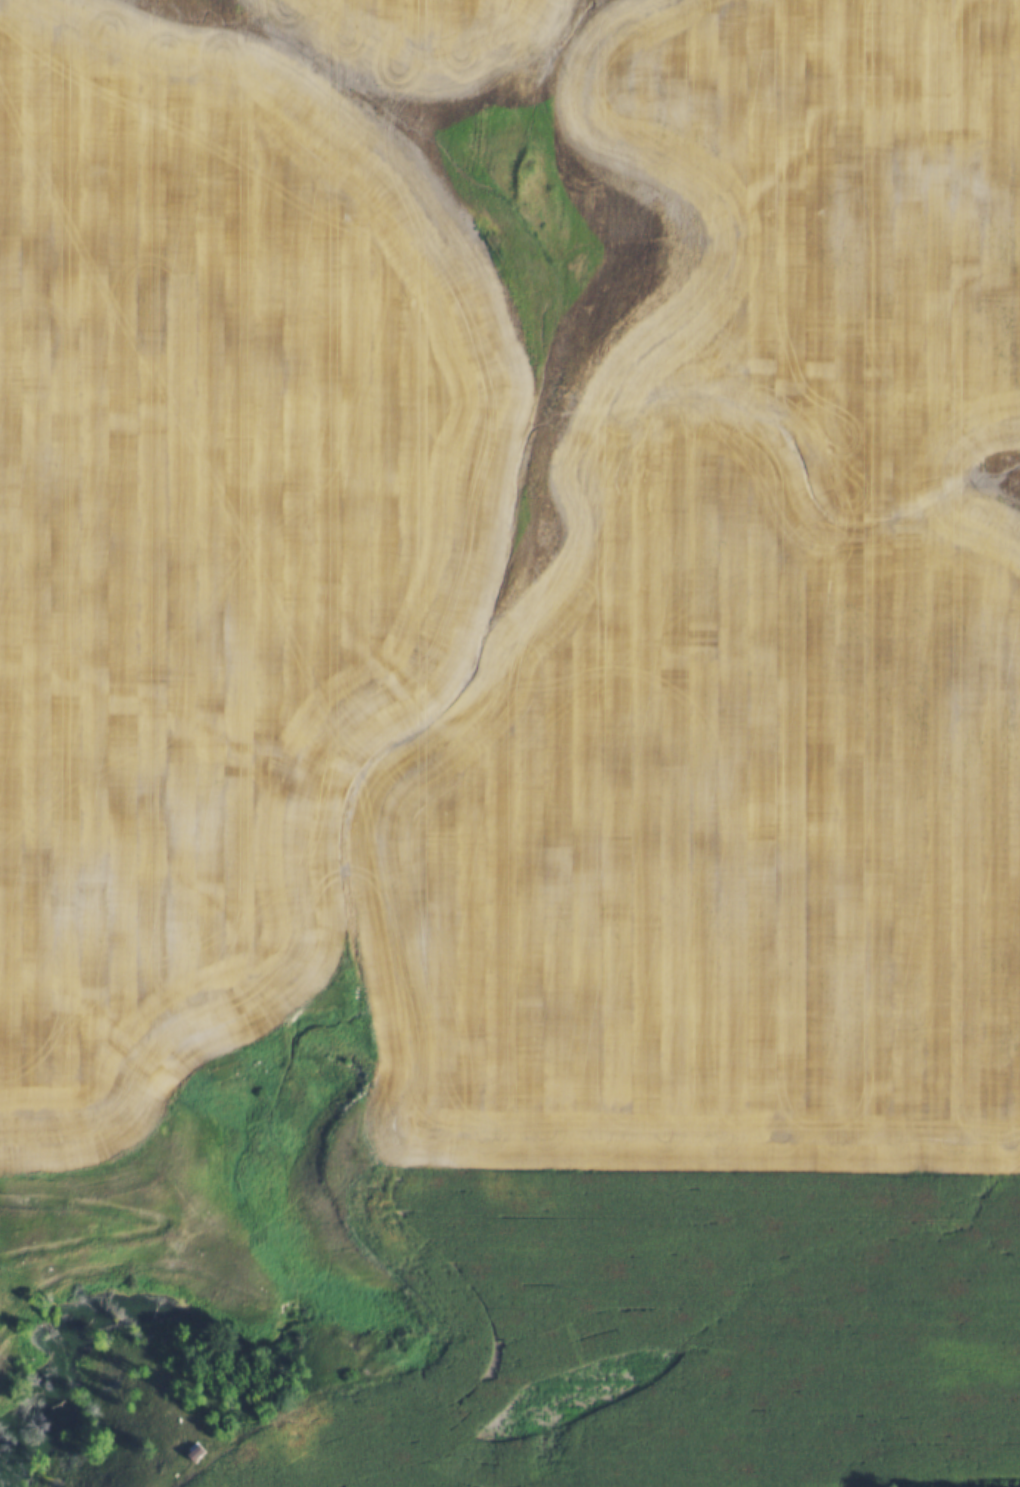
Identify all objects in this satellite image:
building: (190, 1452)

